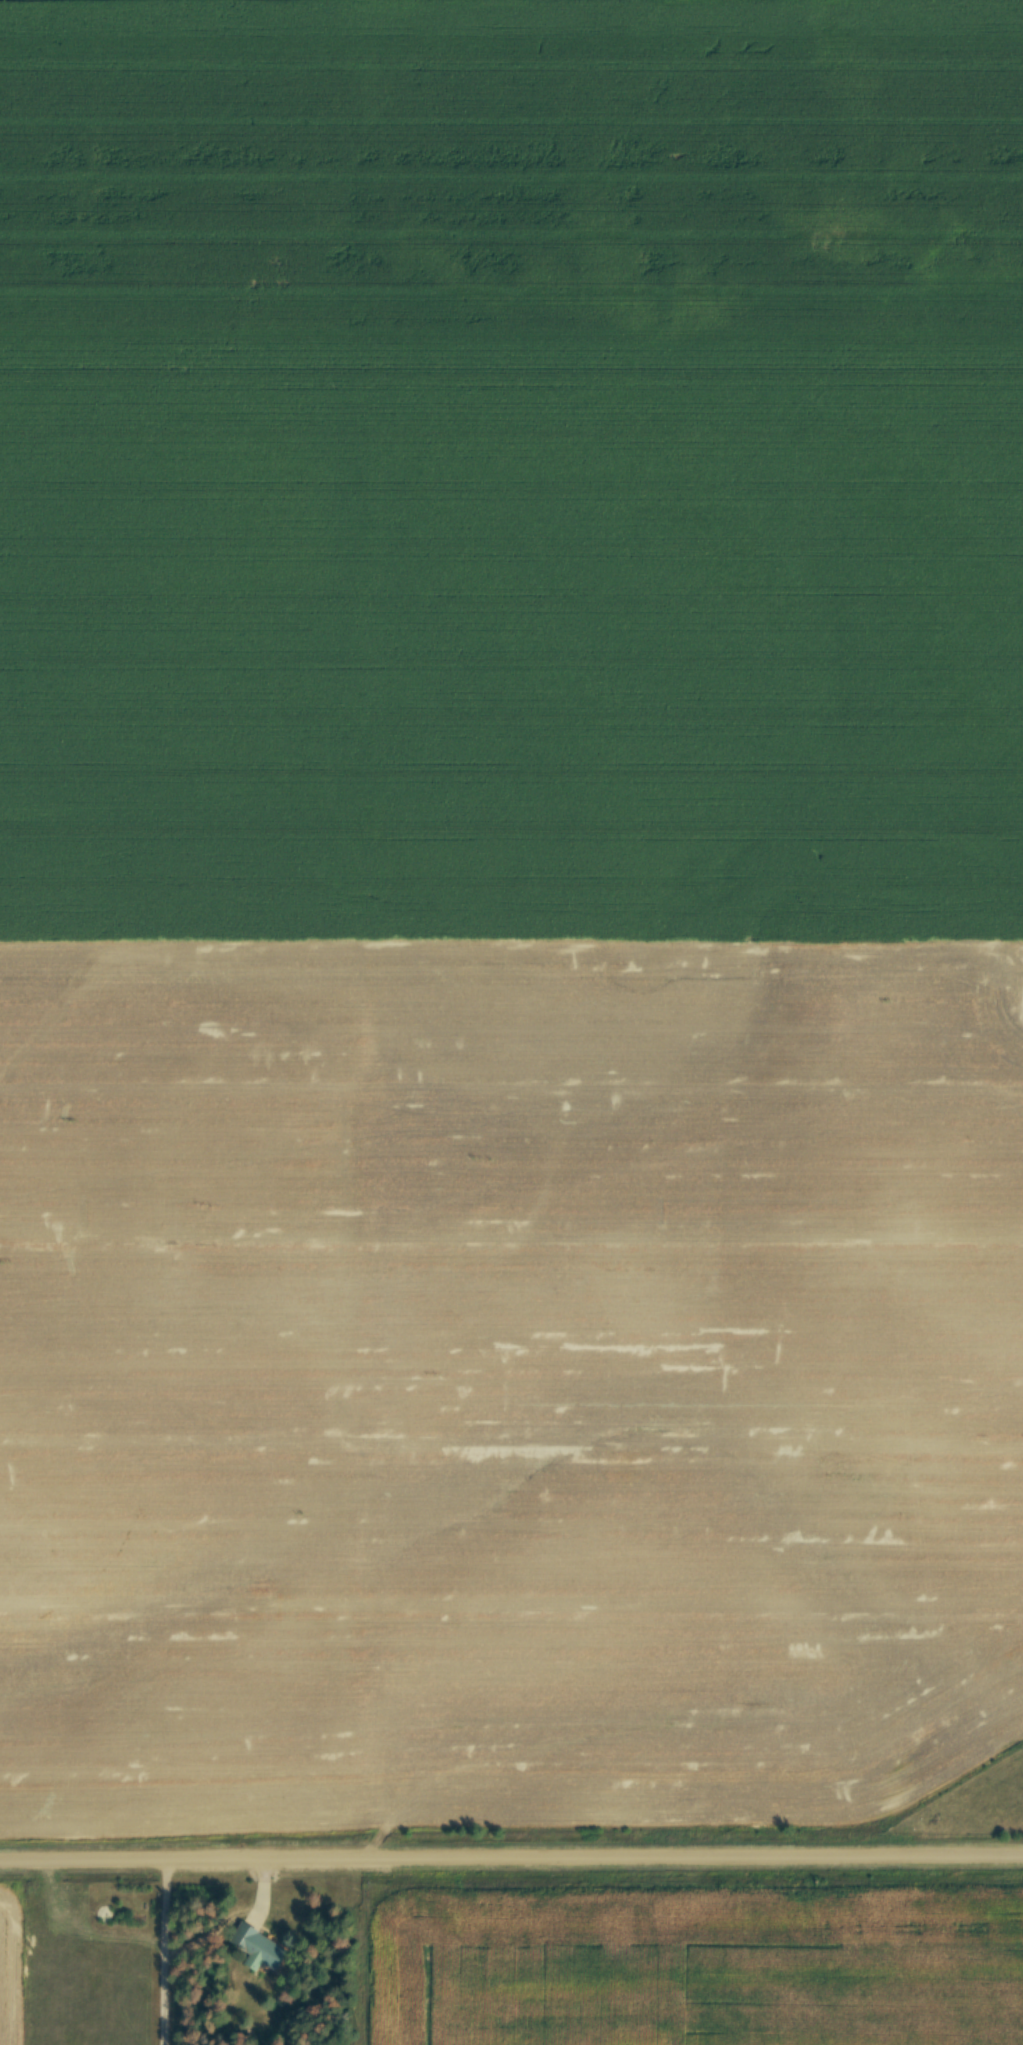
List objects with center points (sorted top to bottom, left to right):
road: (511, 1864)
building: (259, 1948)
road: (164, 1955)

